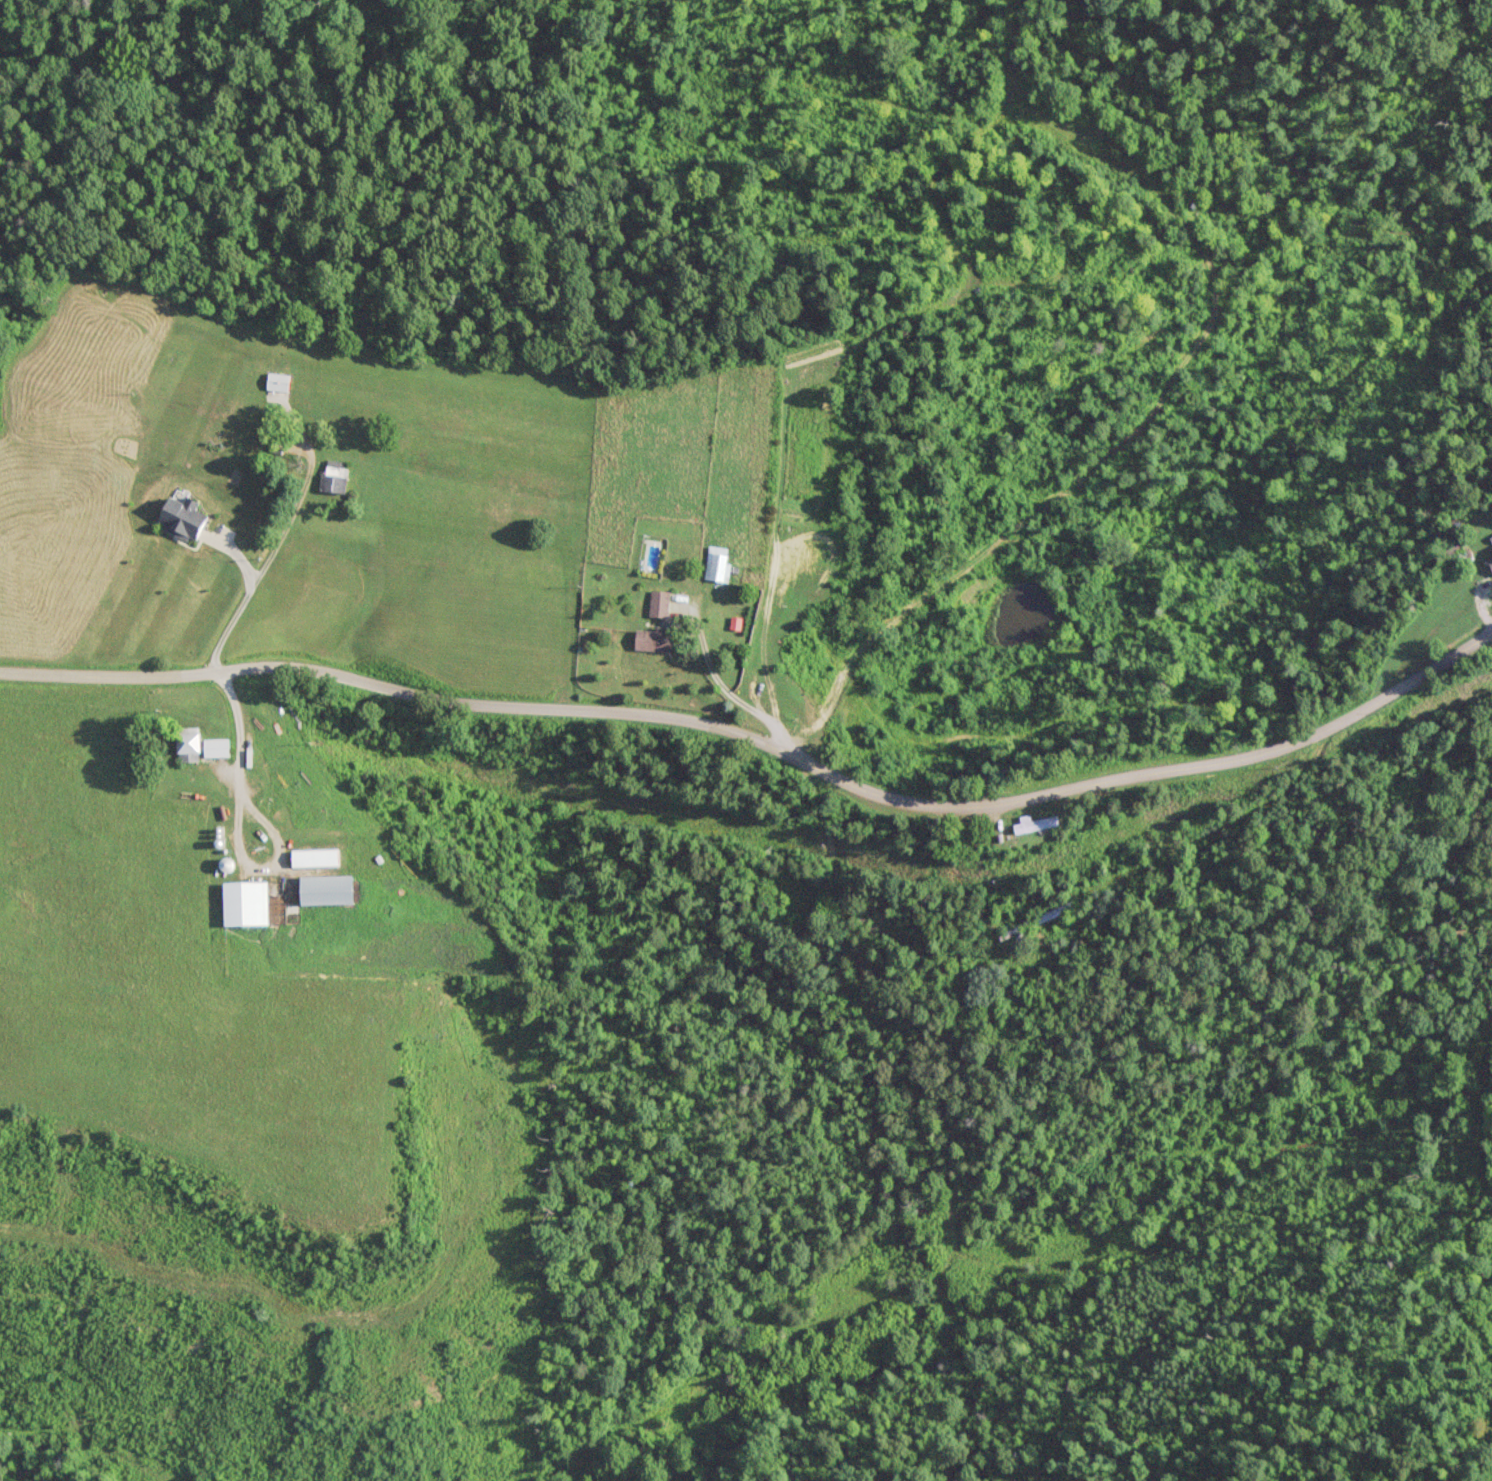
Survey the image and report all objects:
building: (275, 388)
building: (331, 476)
road: (268, 554)
building: (715, 562)
building: (1489, 563)
building: (656, 603)
building: (650, 638)
building: (769, 659)
building: (185, 741)
building: (213, 747)
road: (764, 761)
building: (1033, 824)
road: (236, 828)
building: (312, 858)
building: (323, 890)
building: (242, 903)
building: (1051, 912)
building: (1013, 928)

